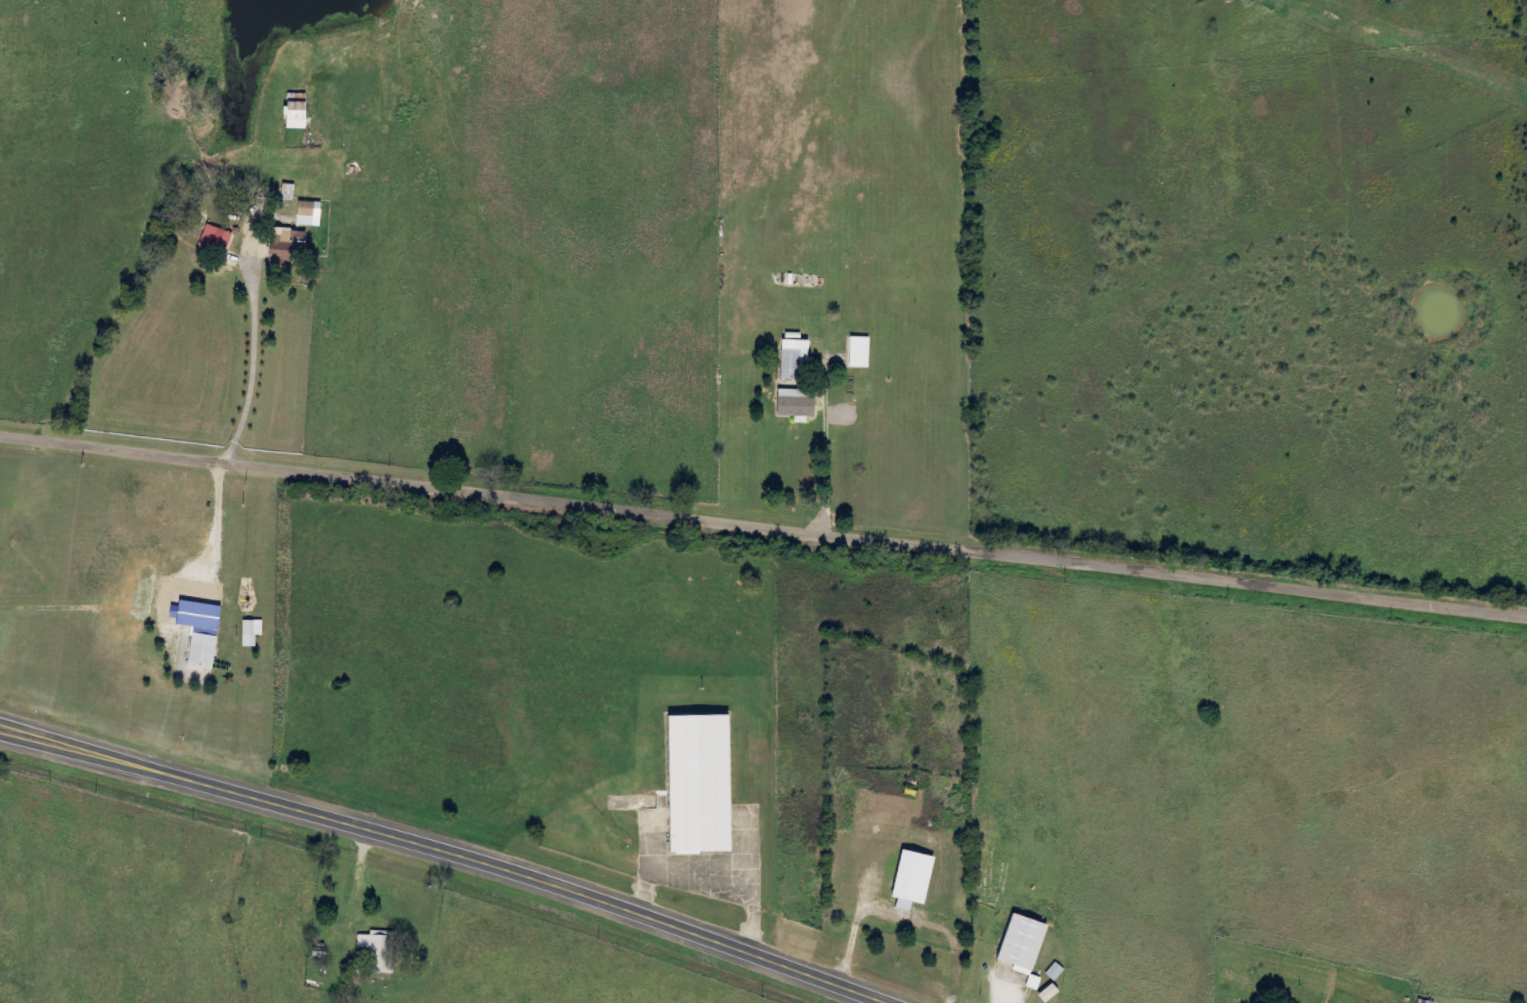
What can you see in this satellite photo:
building: (296, 114)
building: (289, 191)
building: (311, 213)
building: (218, 239)
building: (287, 244)
building: (861, 351)
building: (795, 362)
building: (797, 402)
road: (763, 540)
building: (202, 630)
building: (253, 631)
building: (699, 783)
road: (443, 851)
building: (913, 879)
road: (517, 936)
building: (1023, 943)
building: (381, 950)
building: (1057, 972)
building: (1035, 982)
building: (1049, 993)

